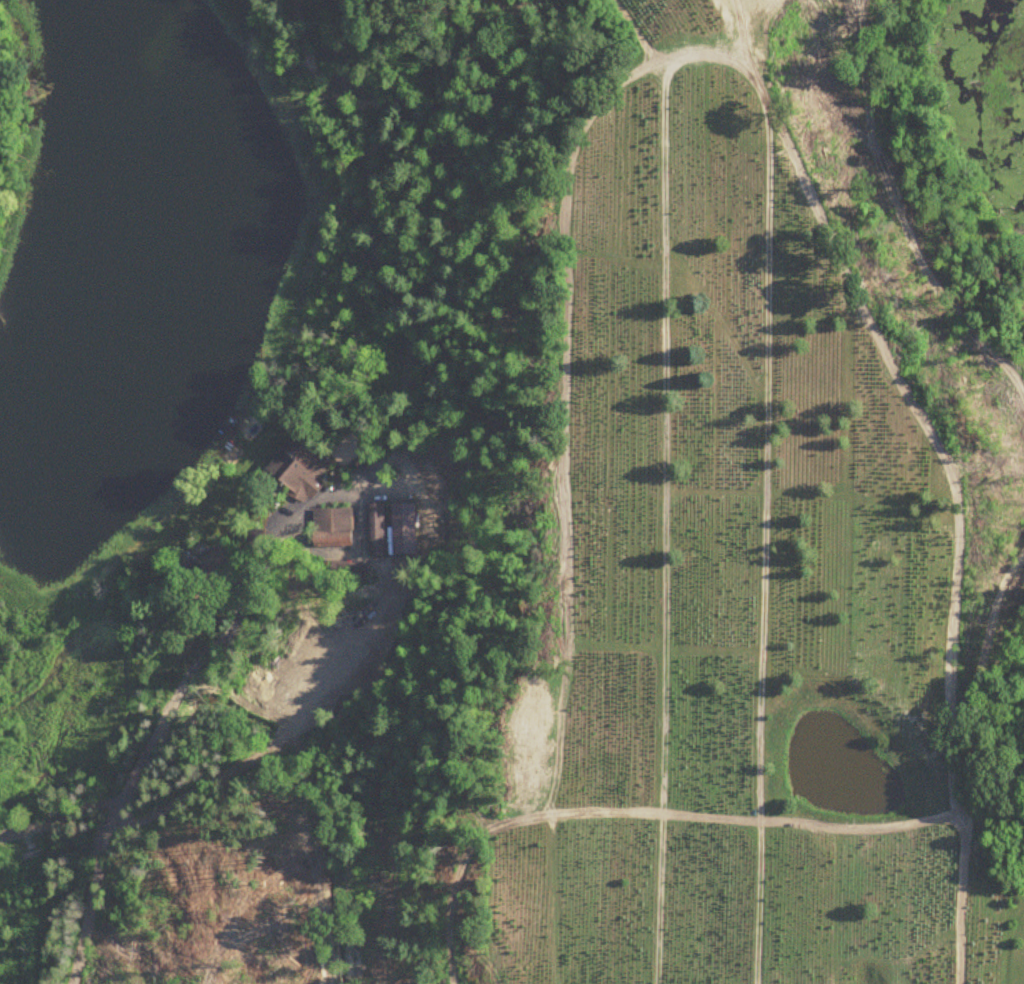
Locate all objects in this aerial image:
building: (304, 468)
building: (335, 527)
building: (218, 557)
road: (149, 748)
road: (267, 754)
road: (63, 818)

